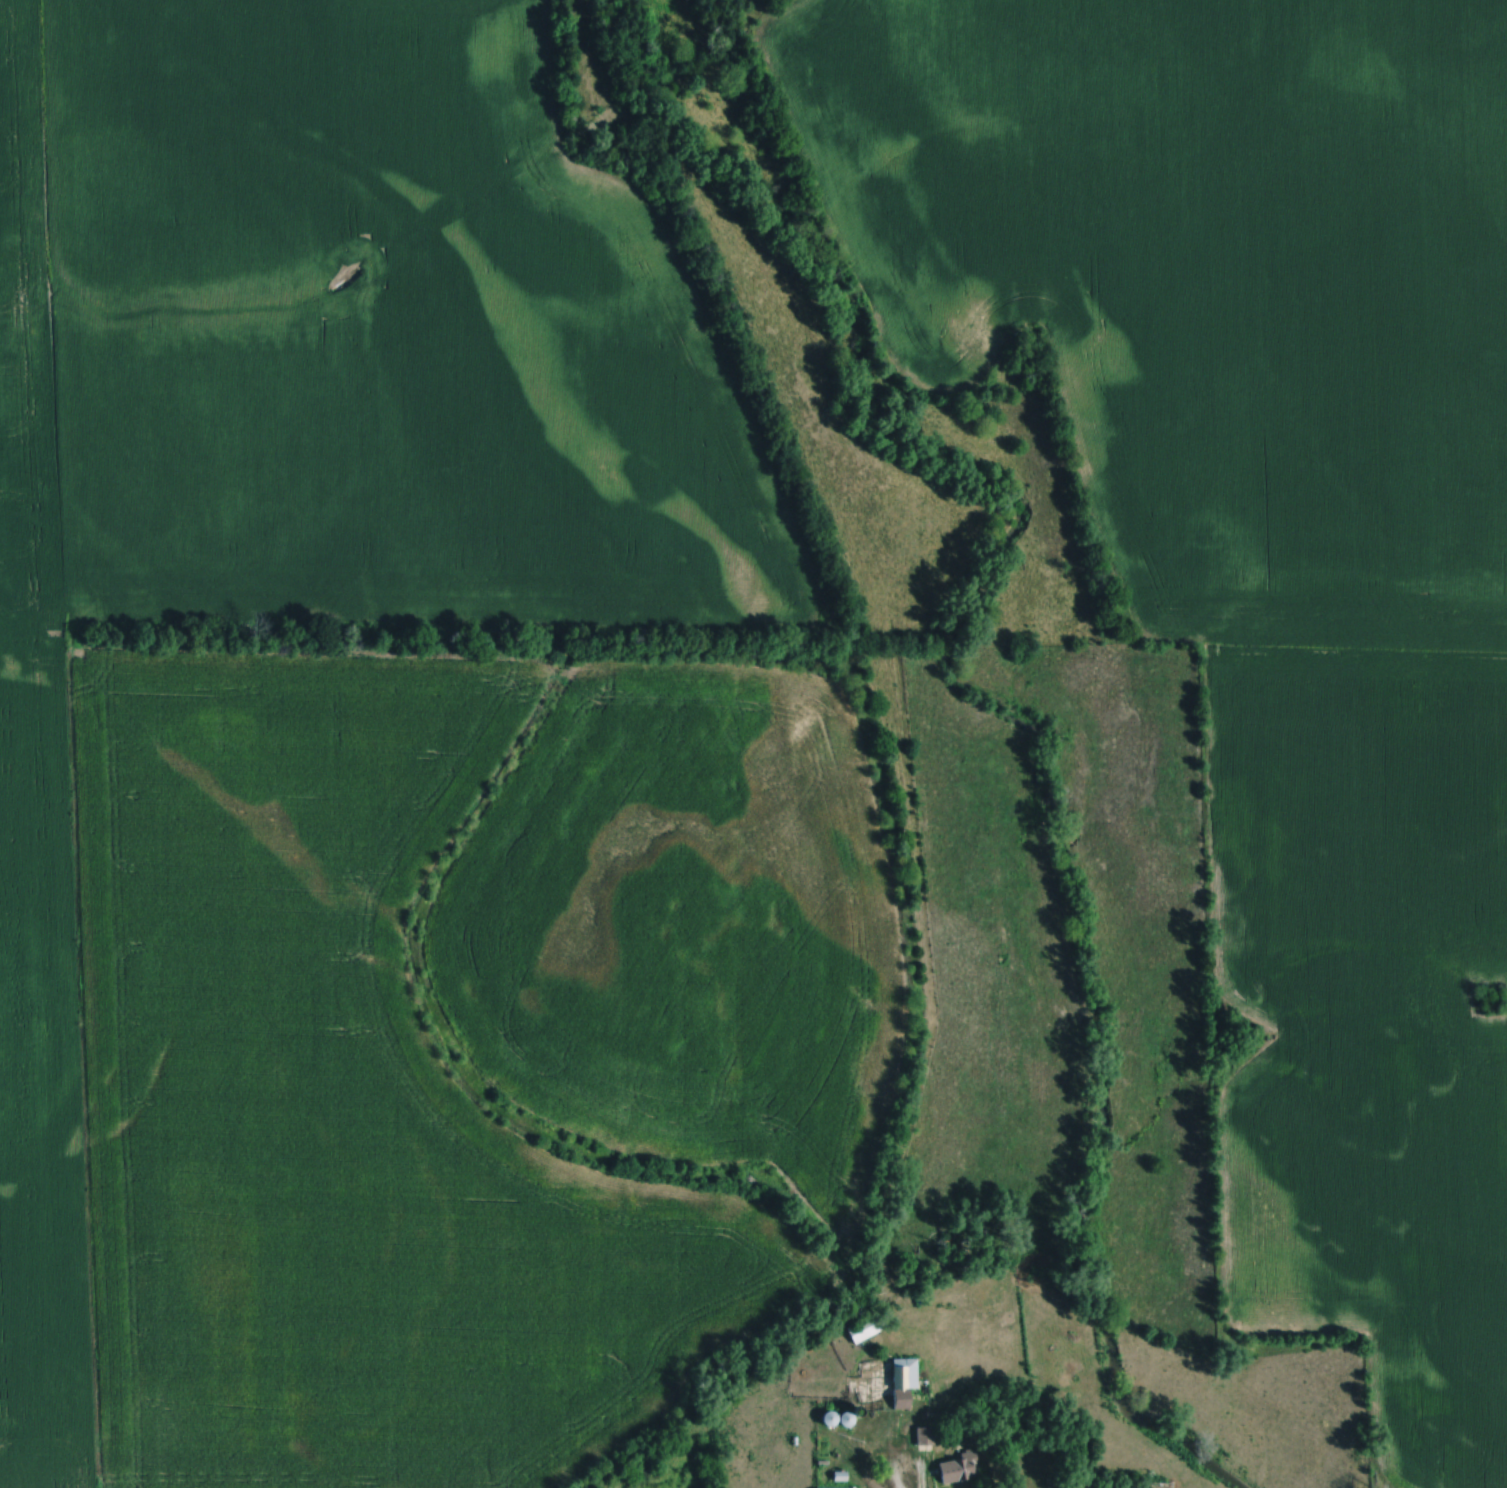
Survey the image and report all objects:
building: (868, 1328)
building: (906, 1385)
building: (926, 1436)
road: (907, 1462)
building: (959, 1472)

